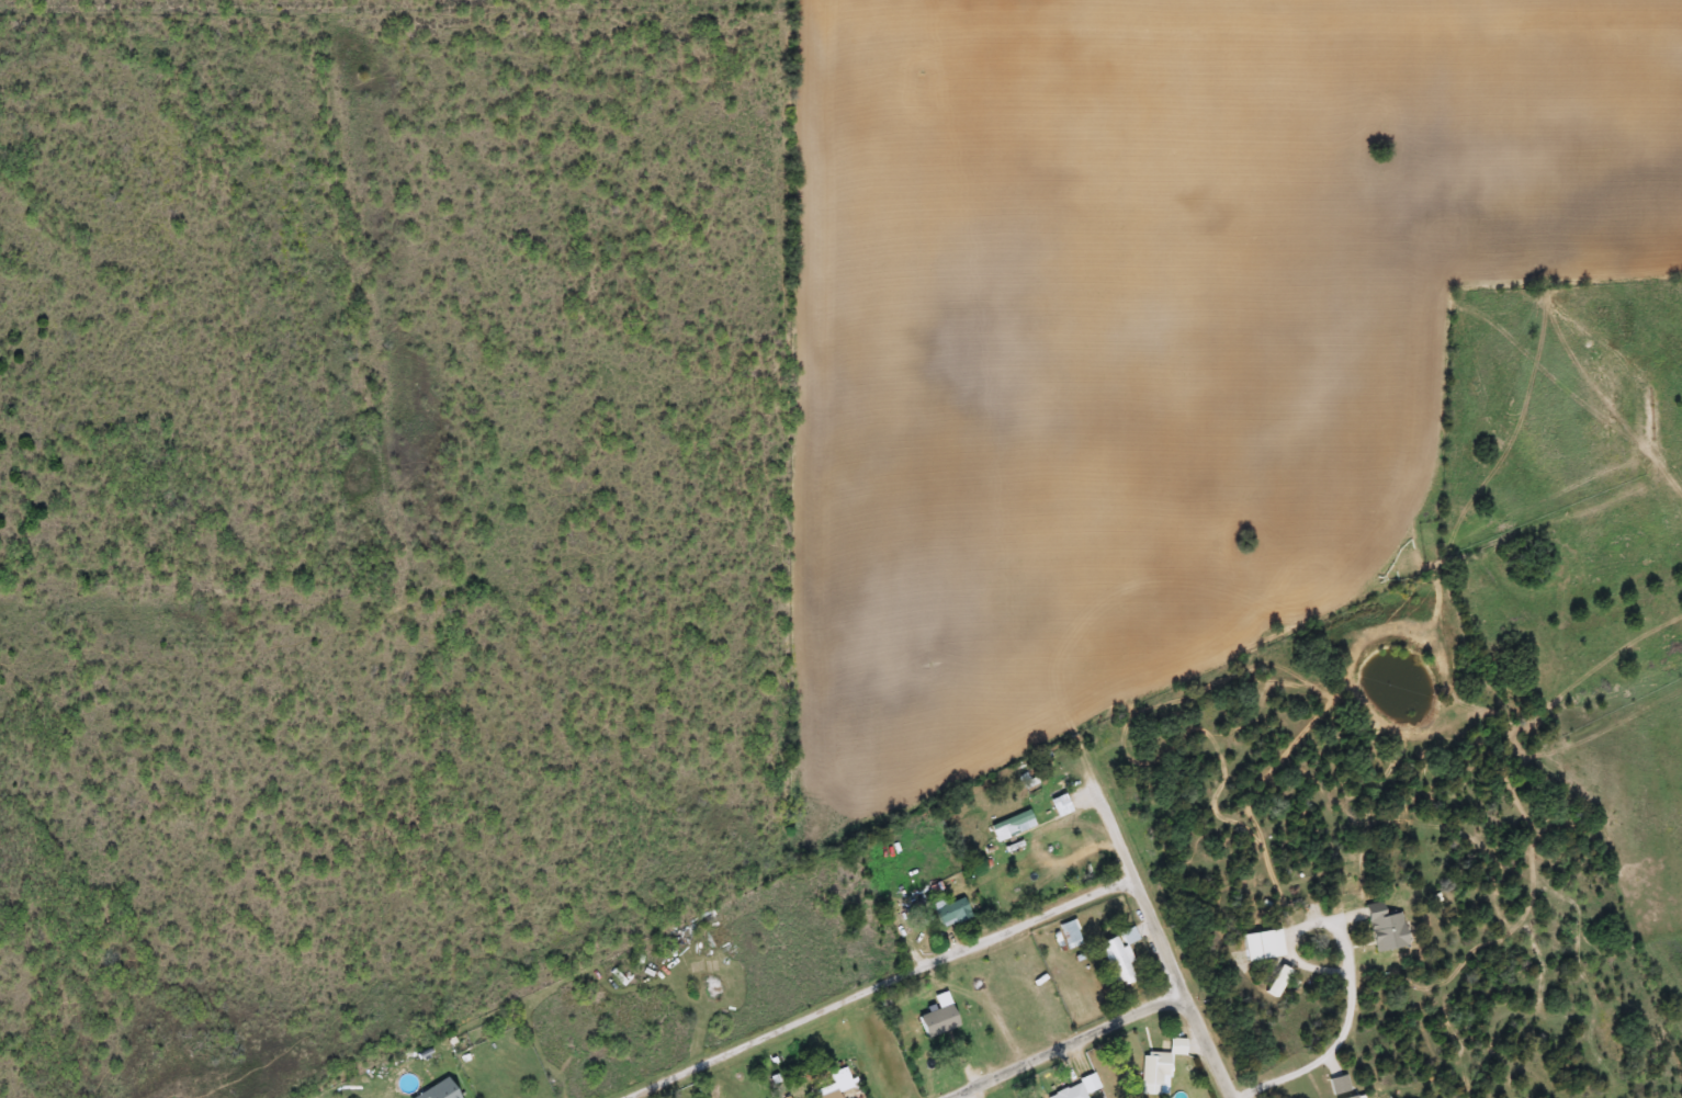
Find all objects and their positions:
building: (1011, 826)
building: (950, 913)
road: (1030, 922)
building: (1382, 928)
road: (1299, 929)
building: (1261, 946)
building: (1119, 958)
road: (1182, 988)
building: (937, 1017)
road: (778, 1032)
road: (1063, 1043)
road: (1329, 1056)
building: (1156, 1068)
building: (837, 1082)
building: (437, 1091)
building: (1070, 1093)

